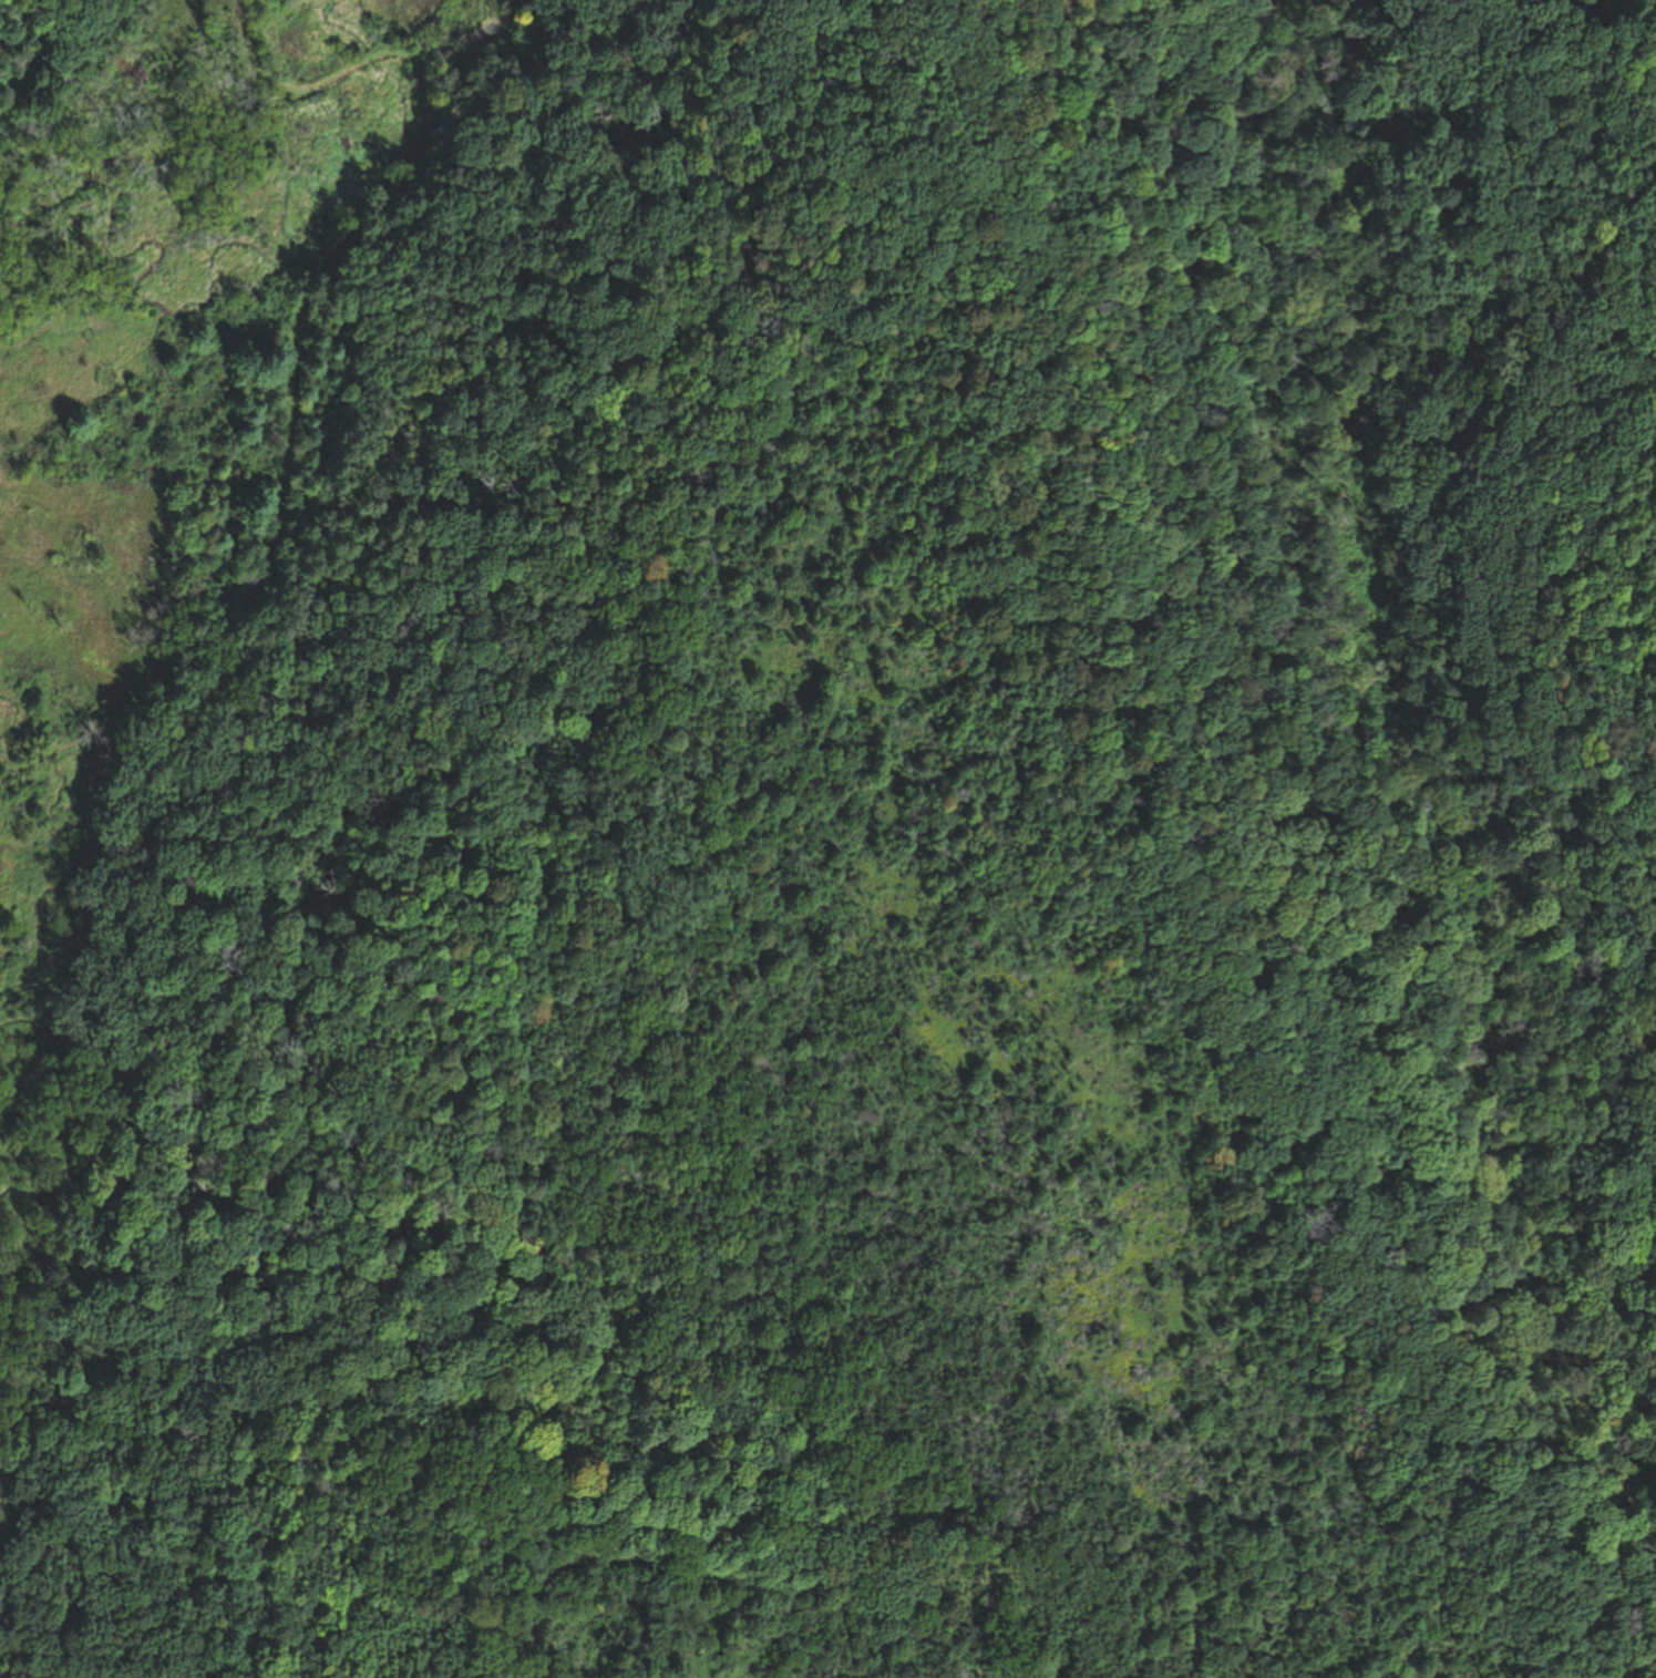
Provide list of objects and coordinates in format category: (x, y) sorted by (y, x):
road: (477, 41)

